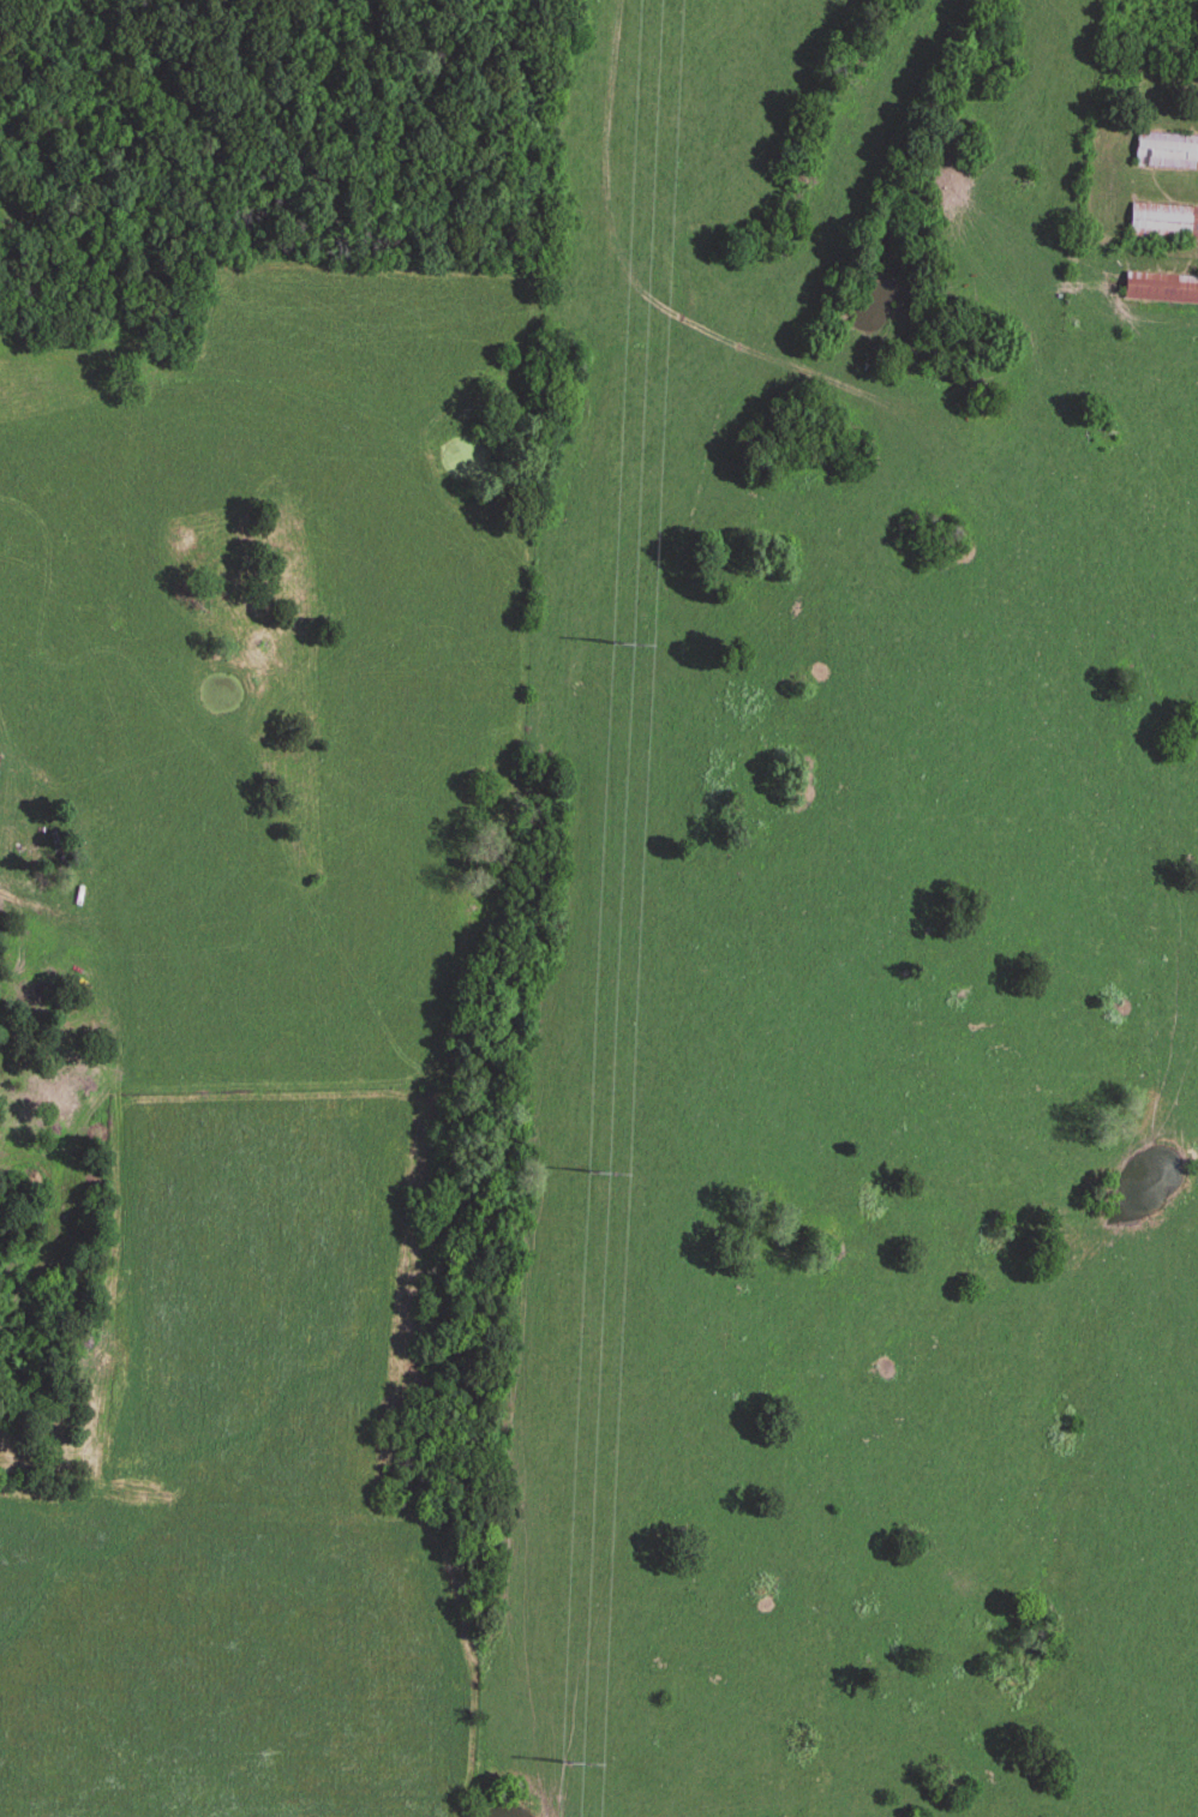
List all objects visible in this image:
building: (1166, 154)
building: (1163, 224)
building: (1160, 290)
power tower: (623, 648)
power tower: (592, 1168)
power tower: (565, 1759)

